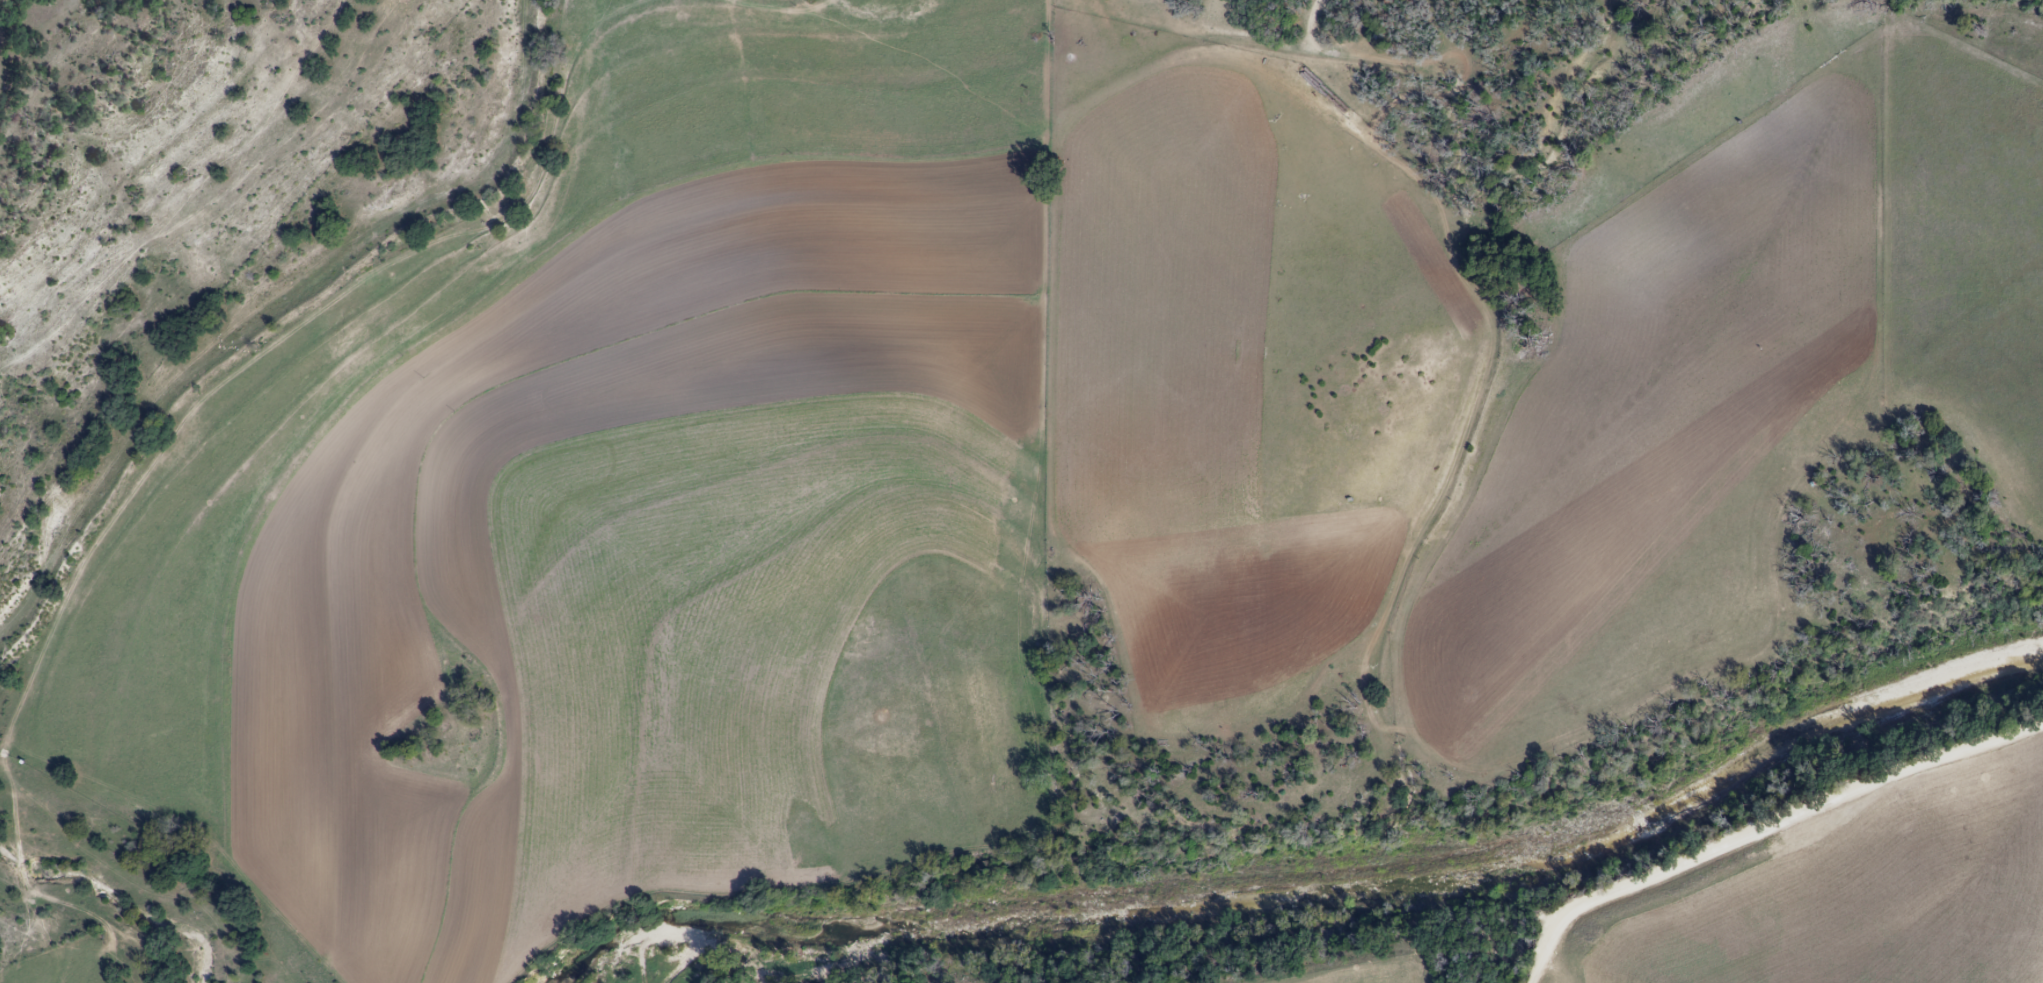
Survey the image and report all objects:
road: (1759, 810)

